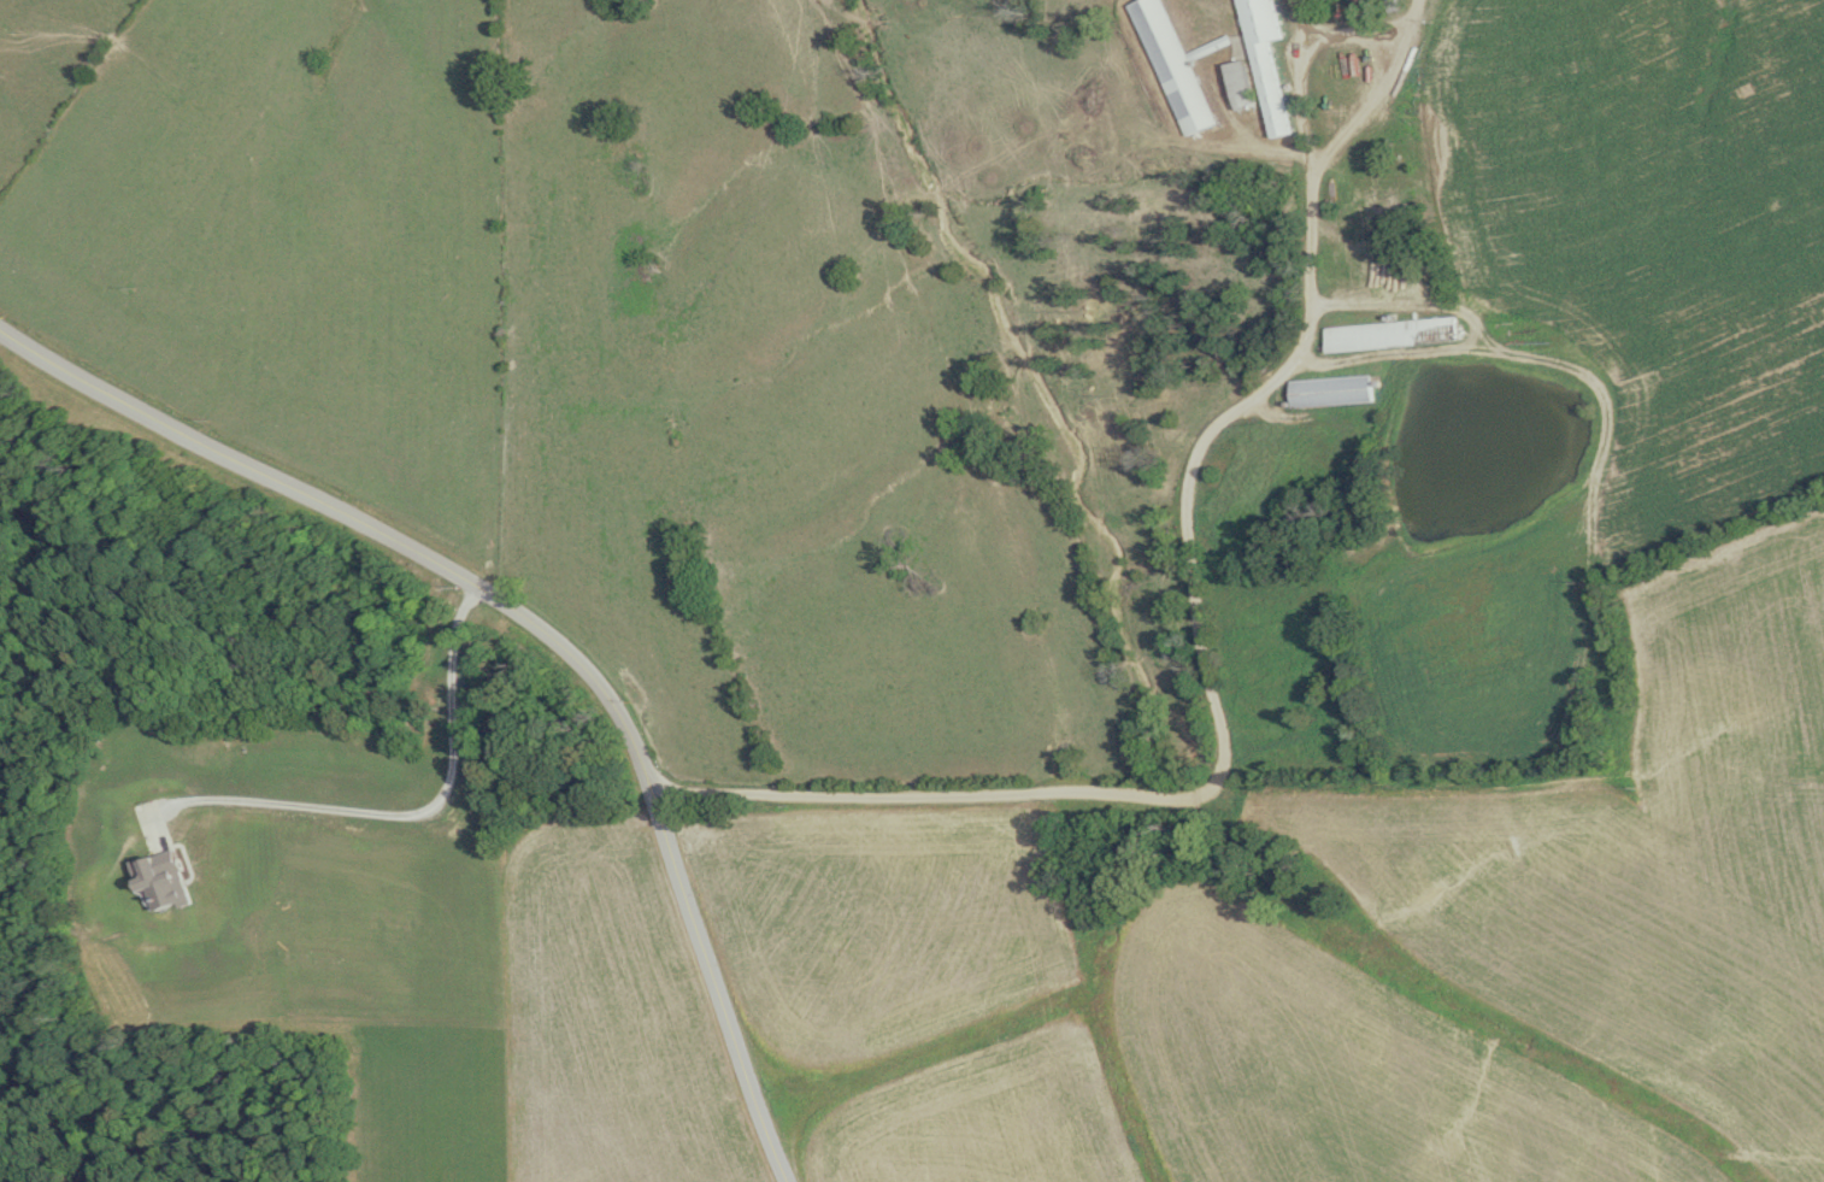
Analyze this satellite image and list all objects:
building: (1270, 60)
building: (1175, 65)
building: (1243, 83)
road: (1299, 83)
road: (1371, 88)
road: (1178, 125)
building: (1394, 334)
building: (1335, 390)
road: (540, 625)
road: (1220, 730)
road: (414, 813)

